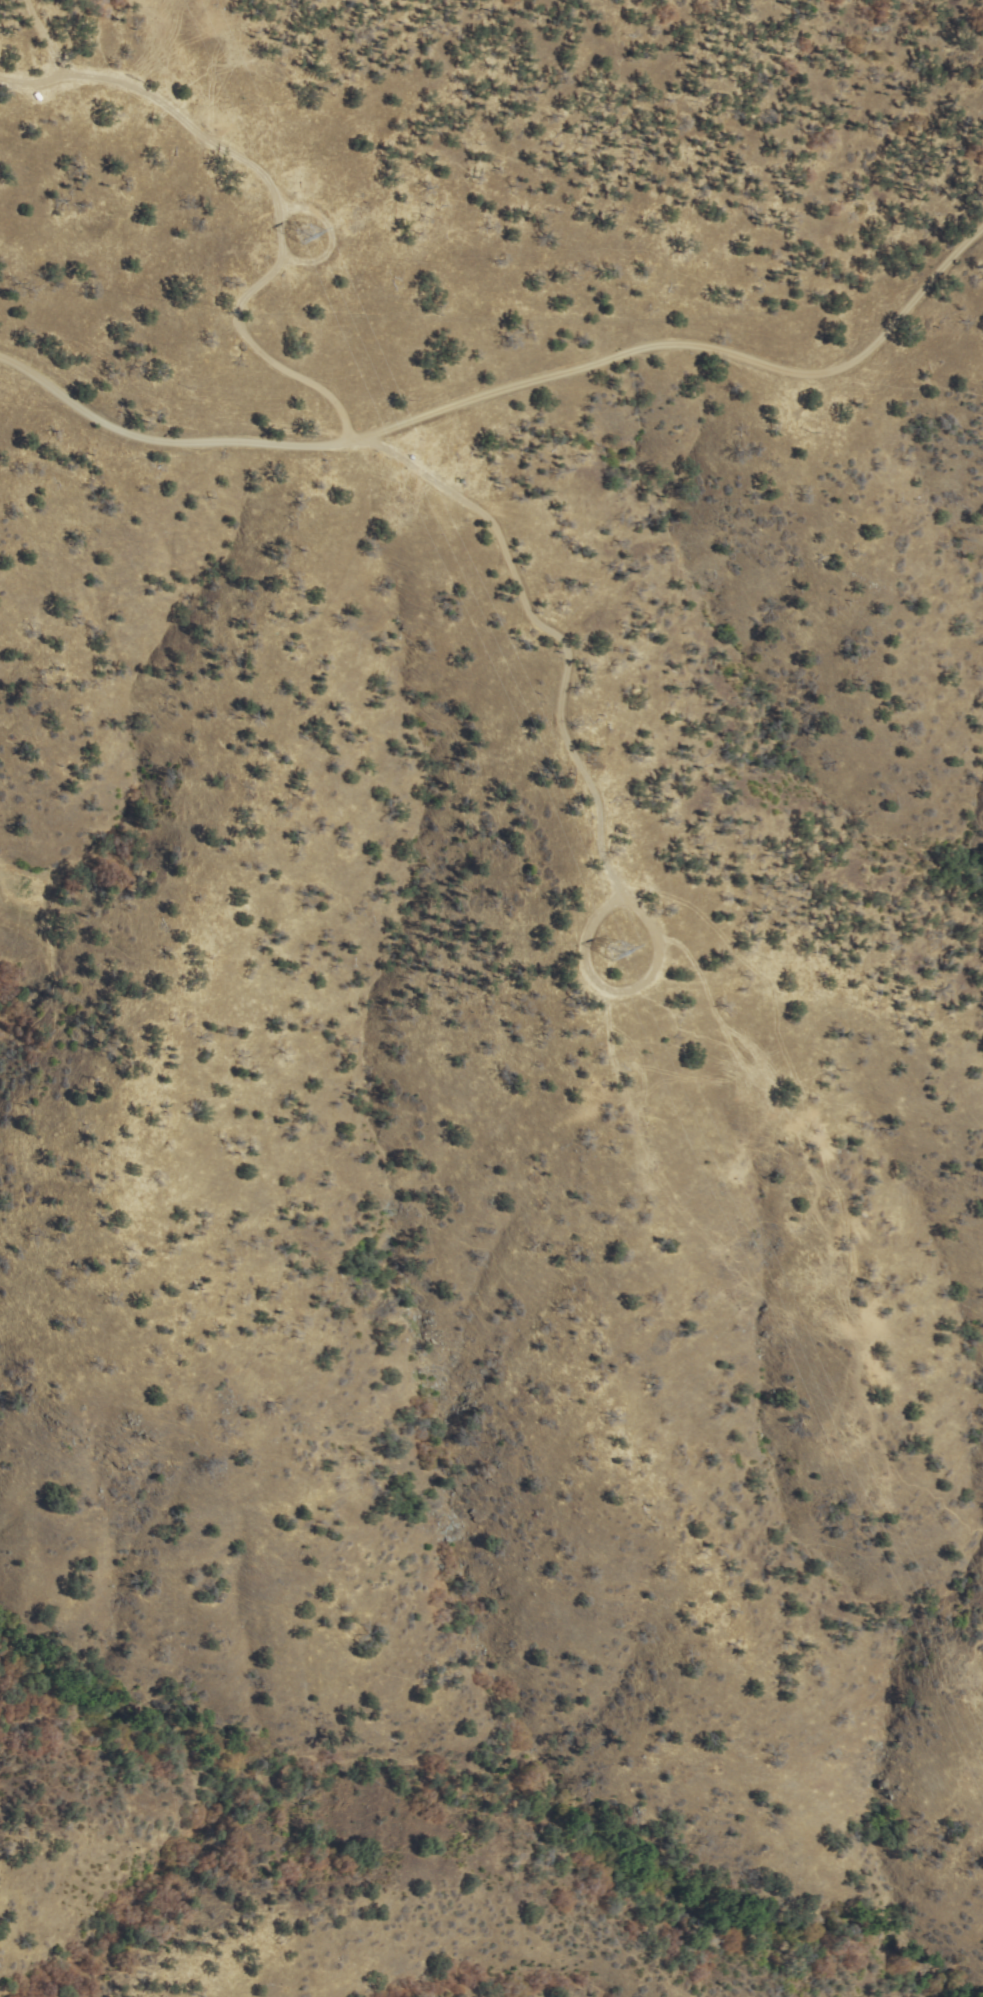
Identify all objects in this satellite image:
power tower: (299, 231)
road: (546, 378)
road: (61, 449)
road: (56, 670)
power tower: (611, 947)

